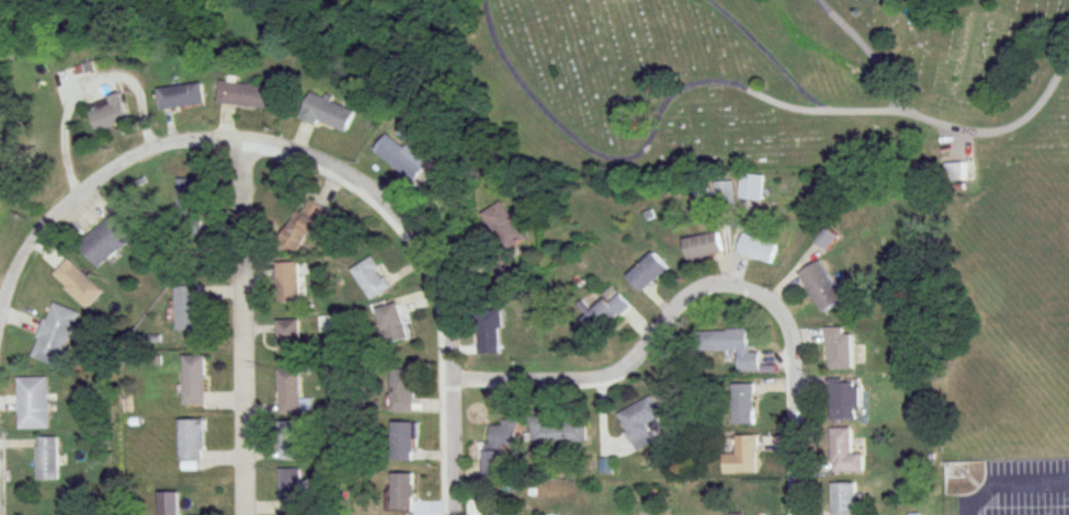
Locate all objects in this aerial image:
road: (767, 53)
road: (866, 56)
road: (730, 83)
park: (774, 85)
building: (249, 94)
building: (183, 95)
building: (328, 113)
building: (109, 116)
building: (401, 156)
building: (751, 188)
road: (87, 193)
building: (725, 193)
building: (190, 202)
building: (304, 226)
building: (503, 226)
building: (826, 238)
building: (107, 240)
building: (703, 245)
building: (757, 249)
building: (504, 273)
building: (648, 273)
road: (431, 276)
building: (371, 278)
building: (288, 282)
building: (77, 284)
building: (821, 286)
road: (707, 287)
building: (186, 308)
building: (604, 314)
building: (393, 324)
road: (244, 328)
building: (489, 333)
building: (55, 334)
building: (289, 337)
building: (731, 346)
building: (837, 347)
building: (193, 379)
building: (289, 391)
building: (403, 391)
building: (843, 400)
building: (33, 402)
building: (743, 403)
building: (640, 415)
building: (558, 431)
building: (191, 439)
building: (291, 440)
building: (403, 442)
building: (499, 447)
building: (842, 453)
building: (741, 456)
building: (47, 458)
building: (293, 491)
building: (403, 491)
building: (842, 499)
building: (501, 514)
building: (735, 514)

